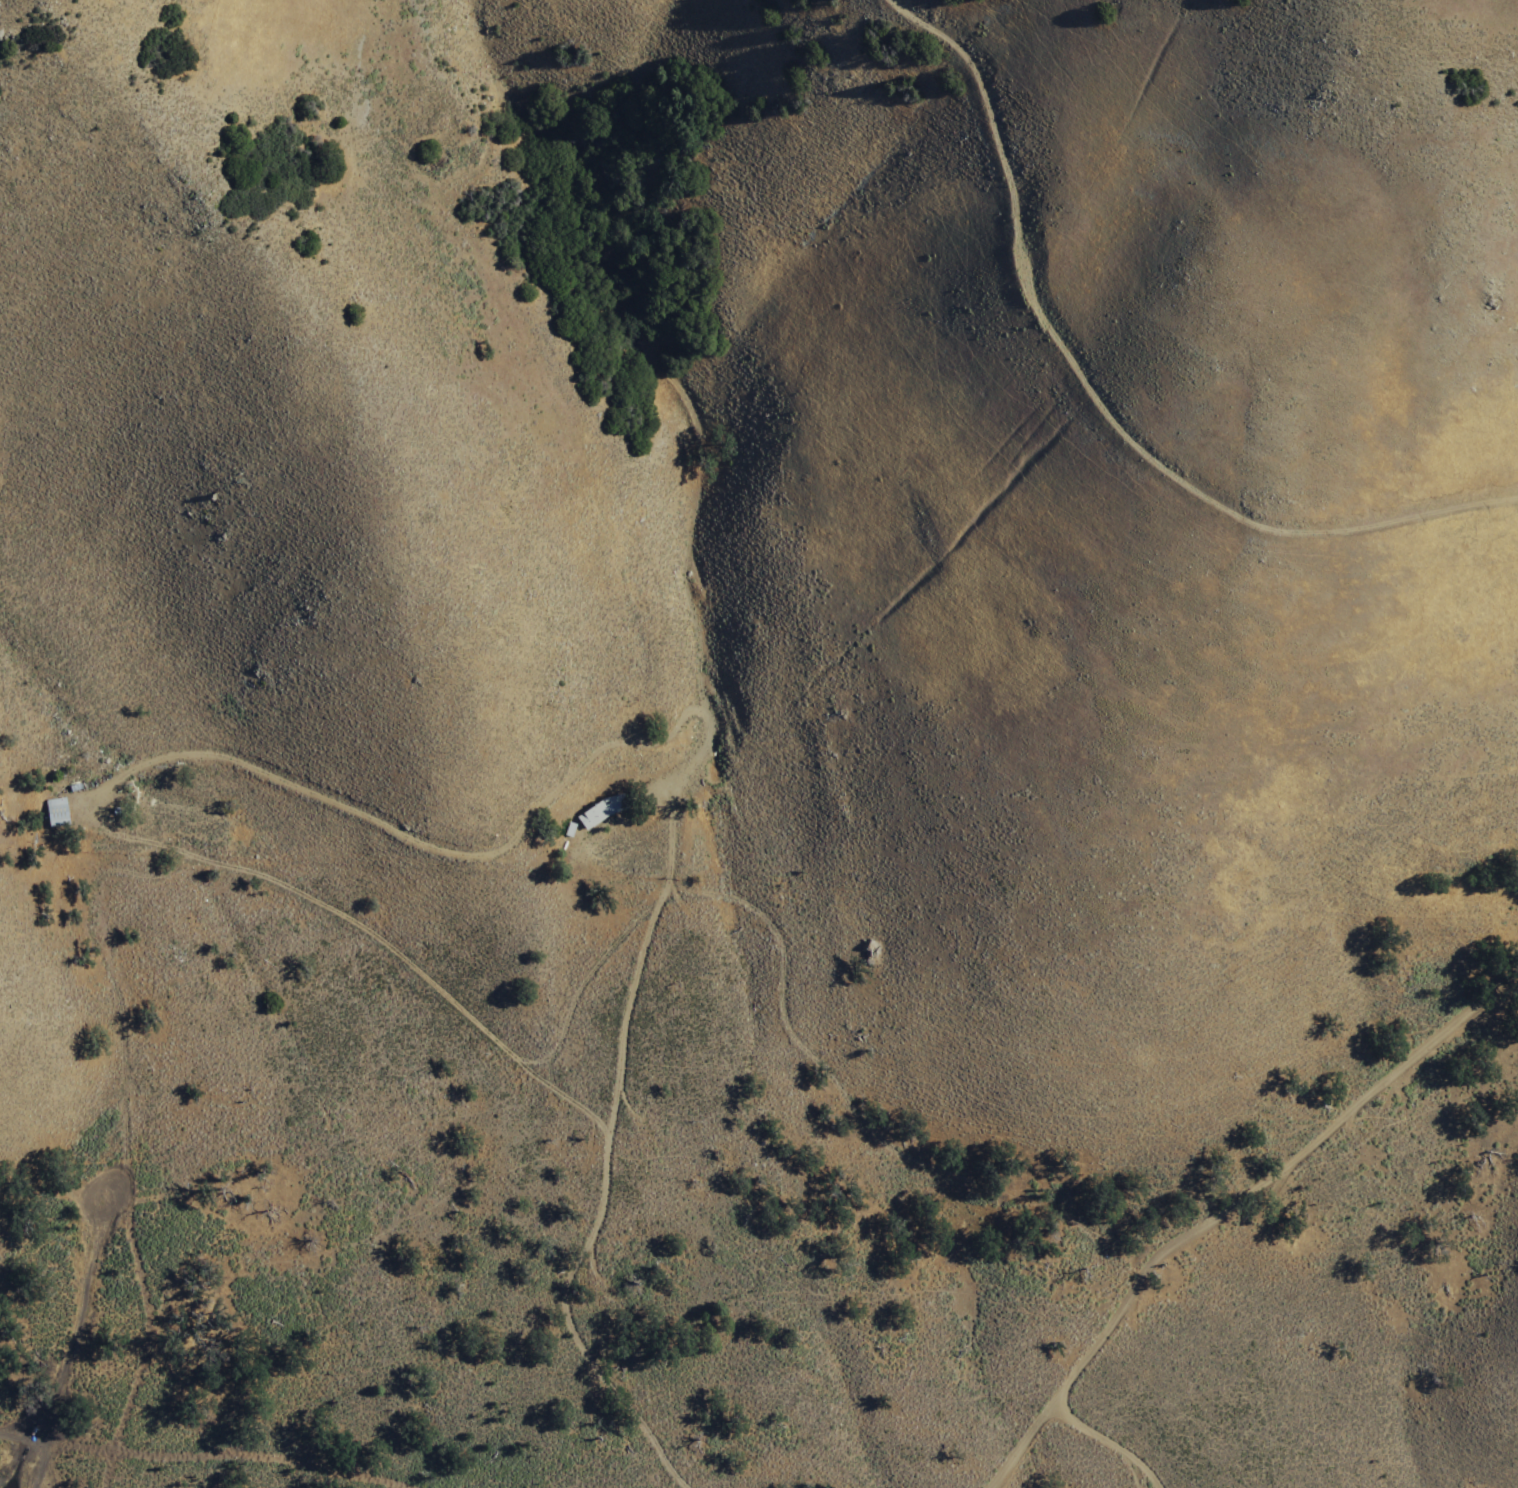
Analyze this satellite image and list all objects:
road: (1094, 400)
building: (56, 813)
road: (499, 1039)
road: (1342, 1117)
road: (602, 1217)
road: (1077, 1371)
road: (1112, 1440)
road: (216, 1451)

